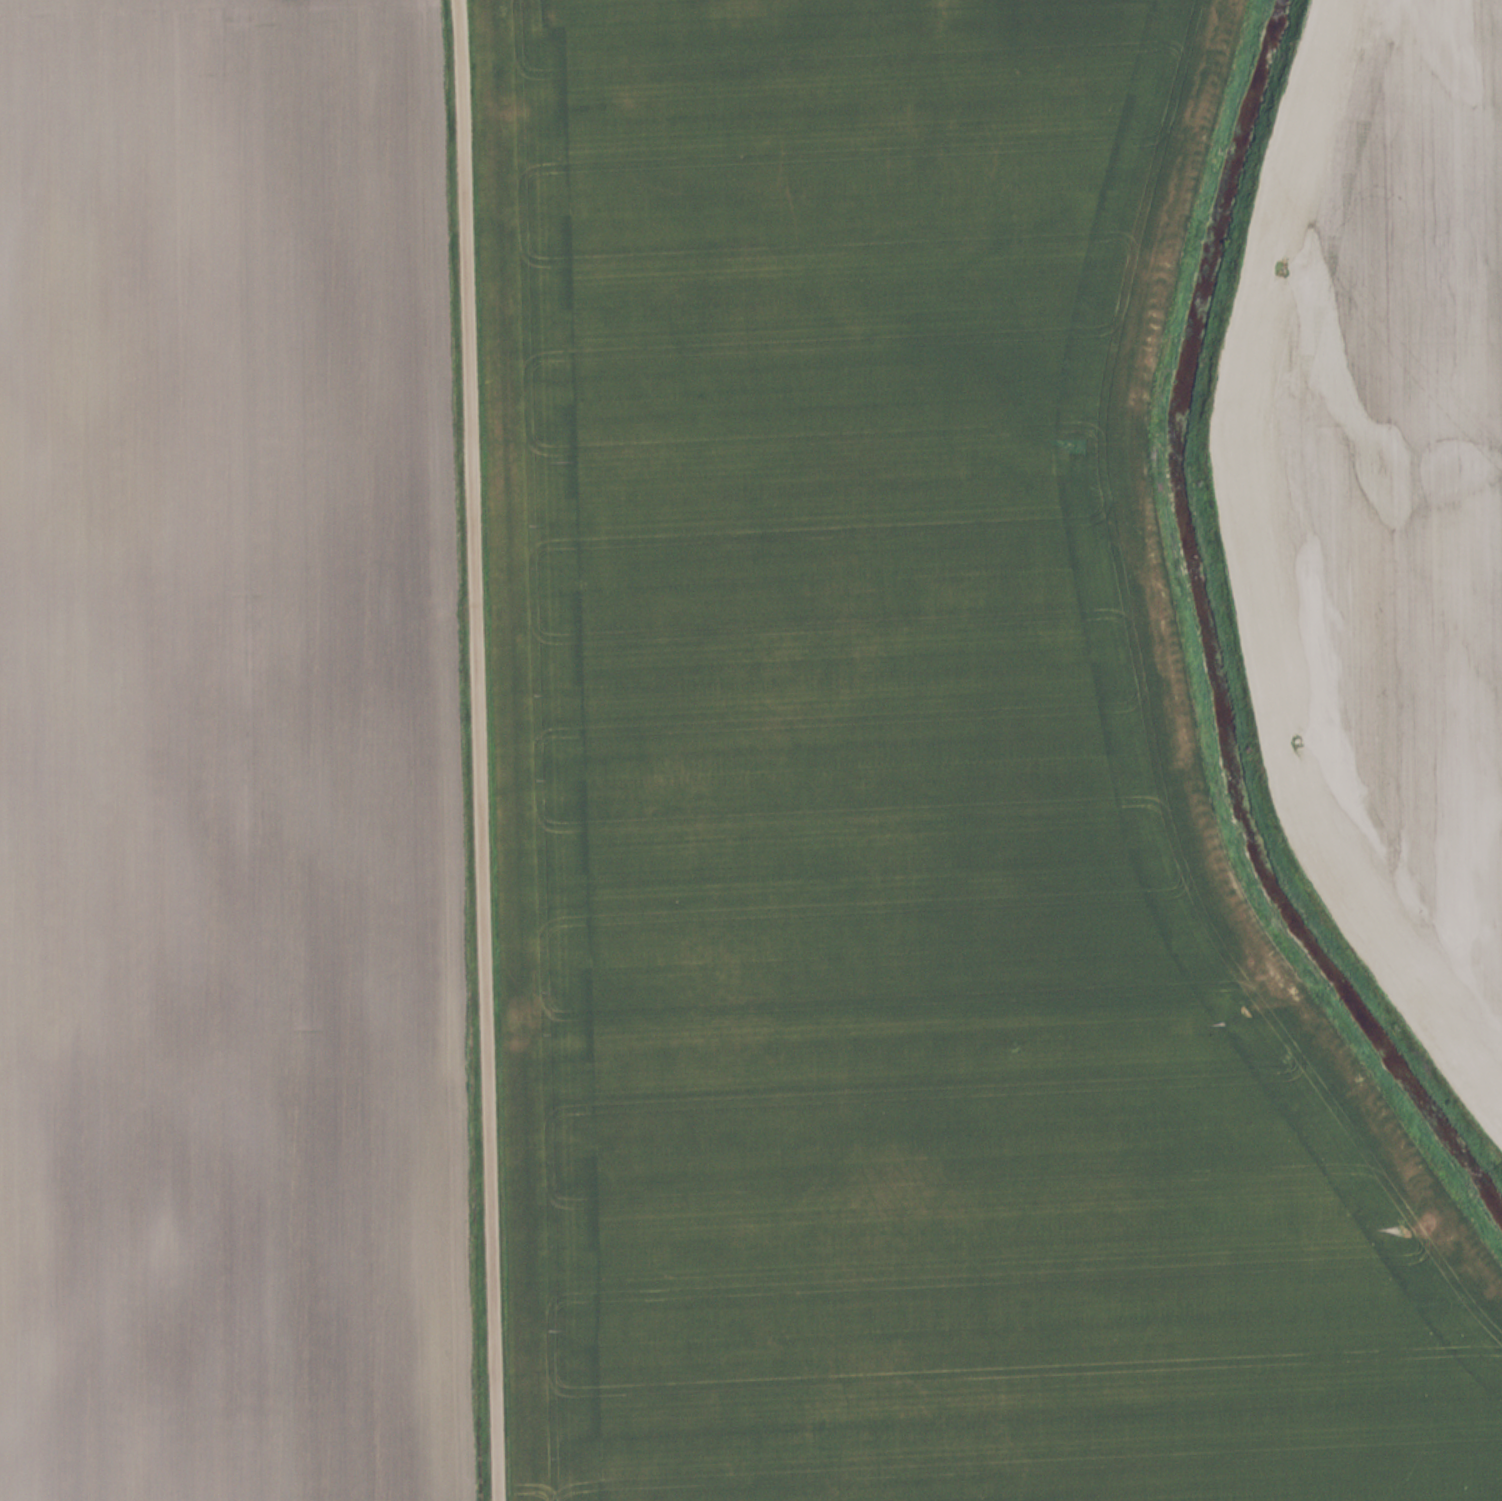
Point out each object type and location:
road: (470, 750)

